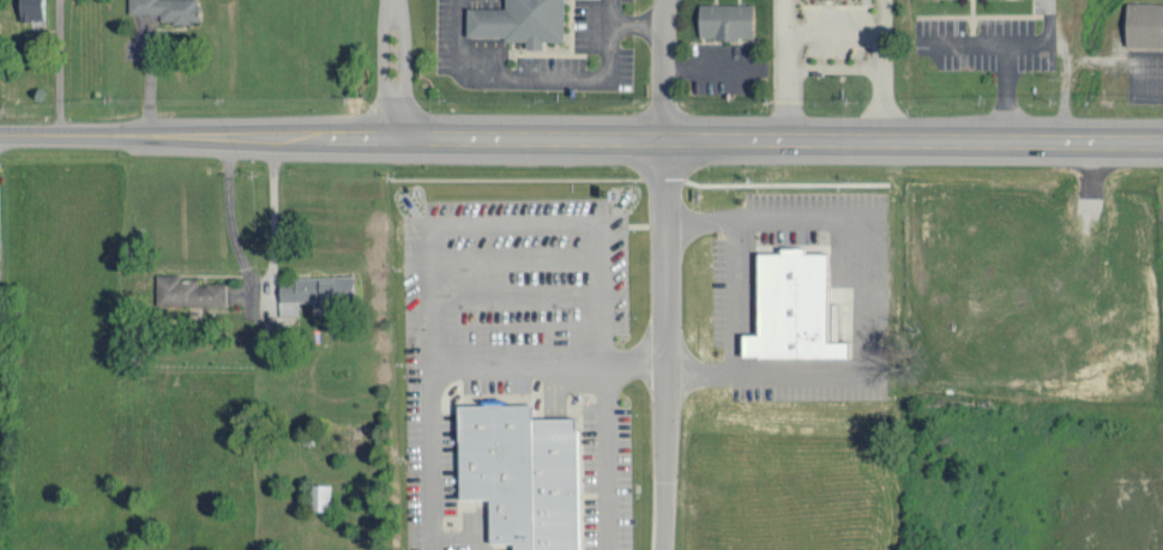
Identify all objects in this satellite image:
building: (30, 8)
building: (167, 8)
building: (725, 19)
building: (518, 20)
building: (1144, 23)
road: (405, 66)
road: (382, 67)
road: (662, 68)
road: (164, 137)
road: (369, 137)
road: (535, 138)
road: (912, 138)
building: (317, 289)
building: (187, 291)
building: (289, 307)
building: (793, 307)
road: (658, 344)
building: (520, 477)
building: (319, 495)

